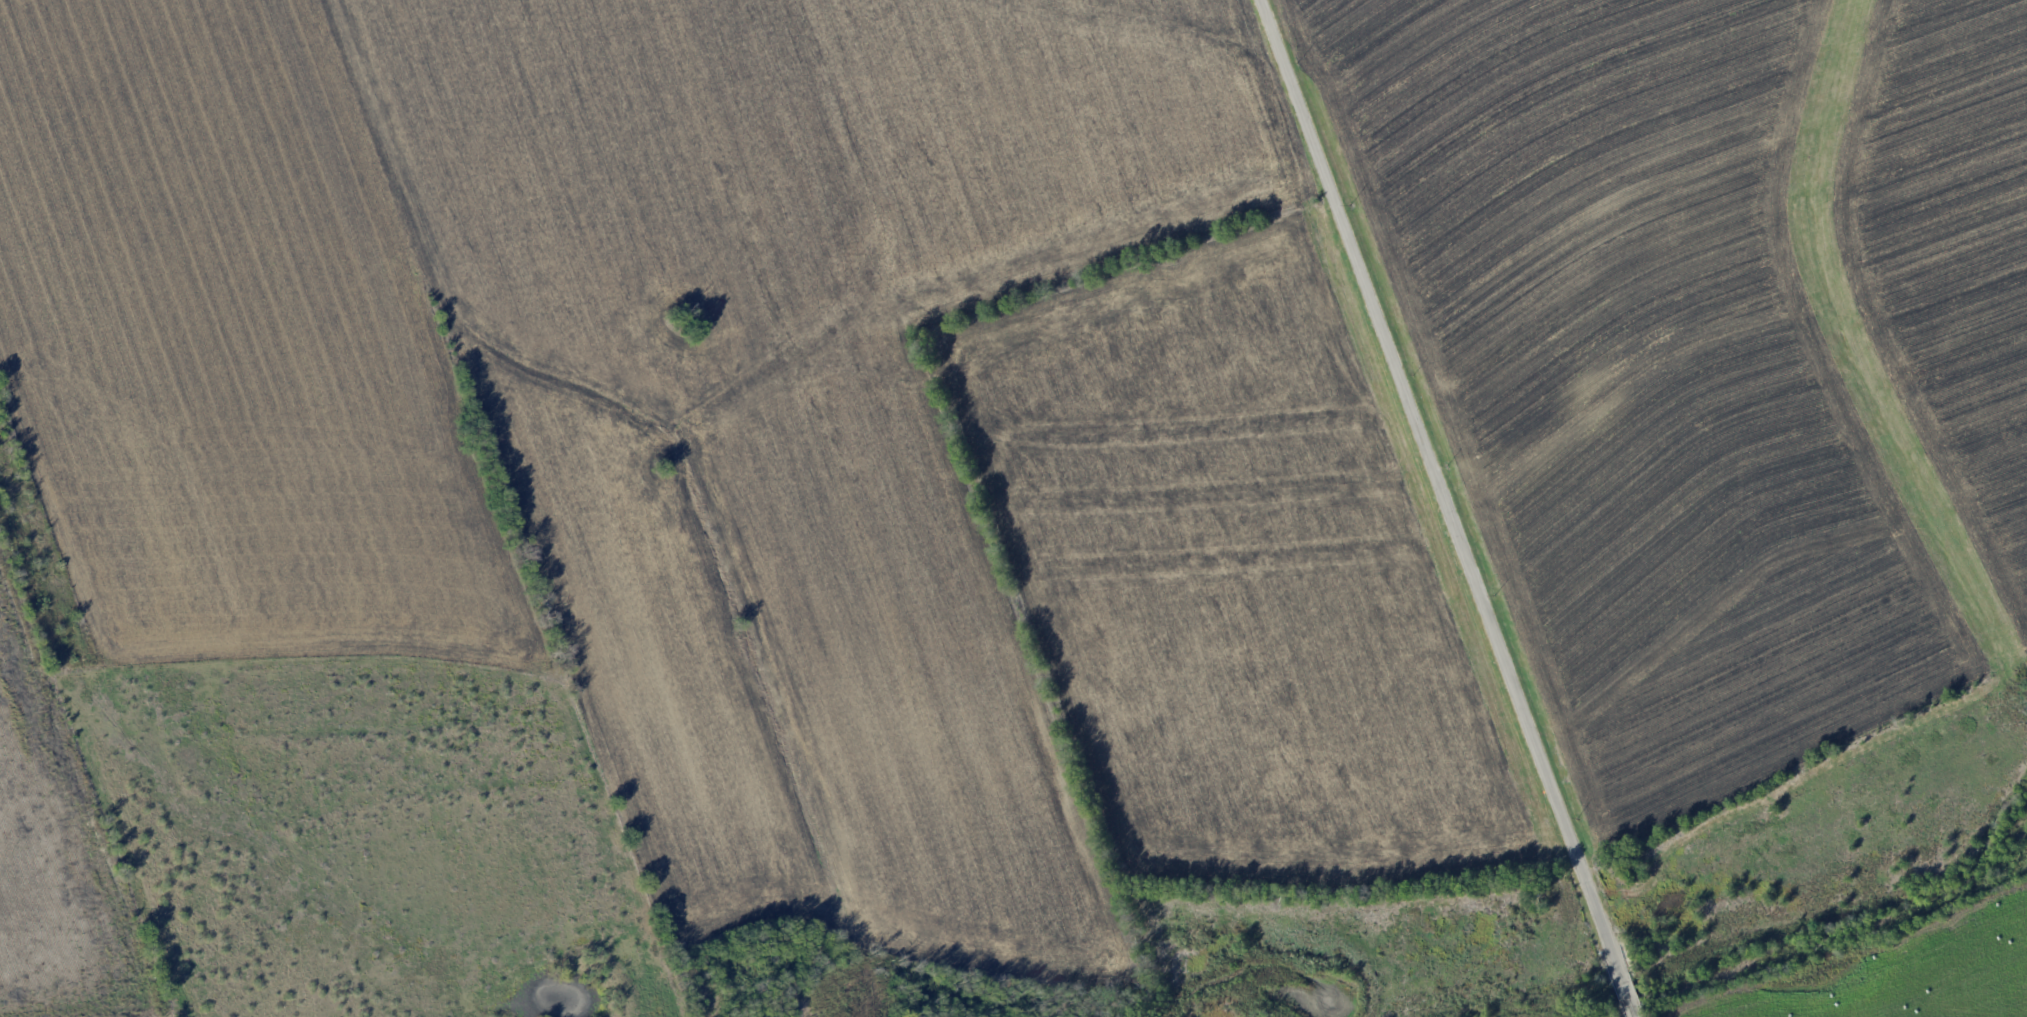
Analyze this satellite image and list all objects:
road: (1447, 508)
road: (2, 843)
road: (2, 850)

